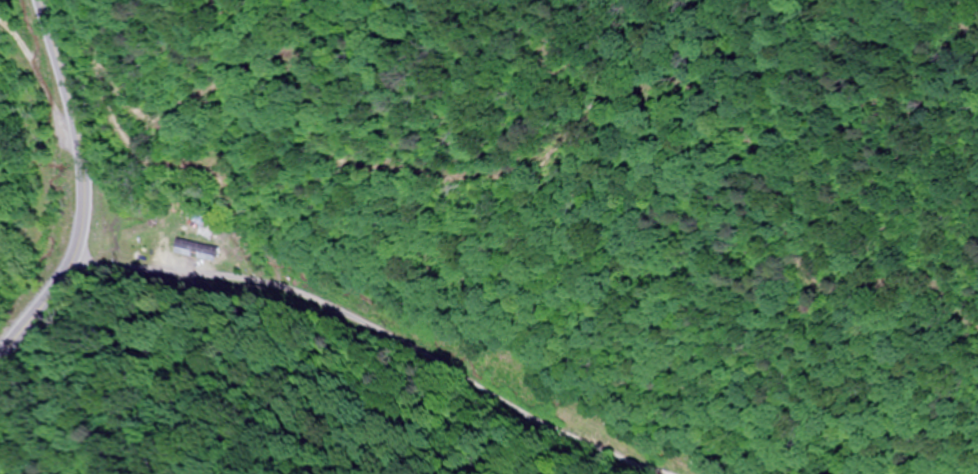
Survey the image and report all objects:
road: (82, 190)
road: (33, 266)
road: (371, 325)
building: (671, 467)

